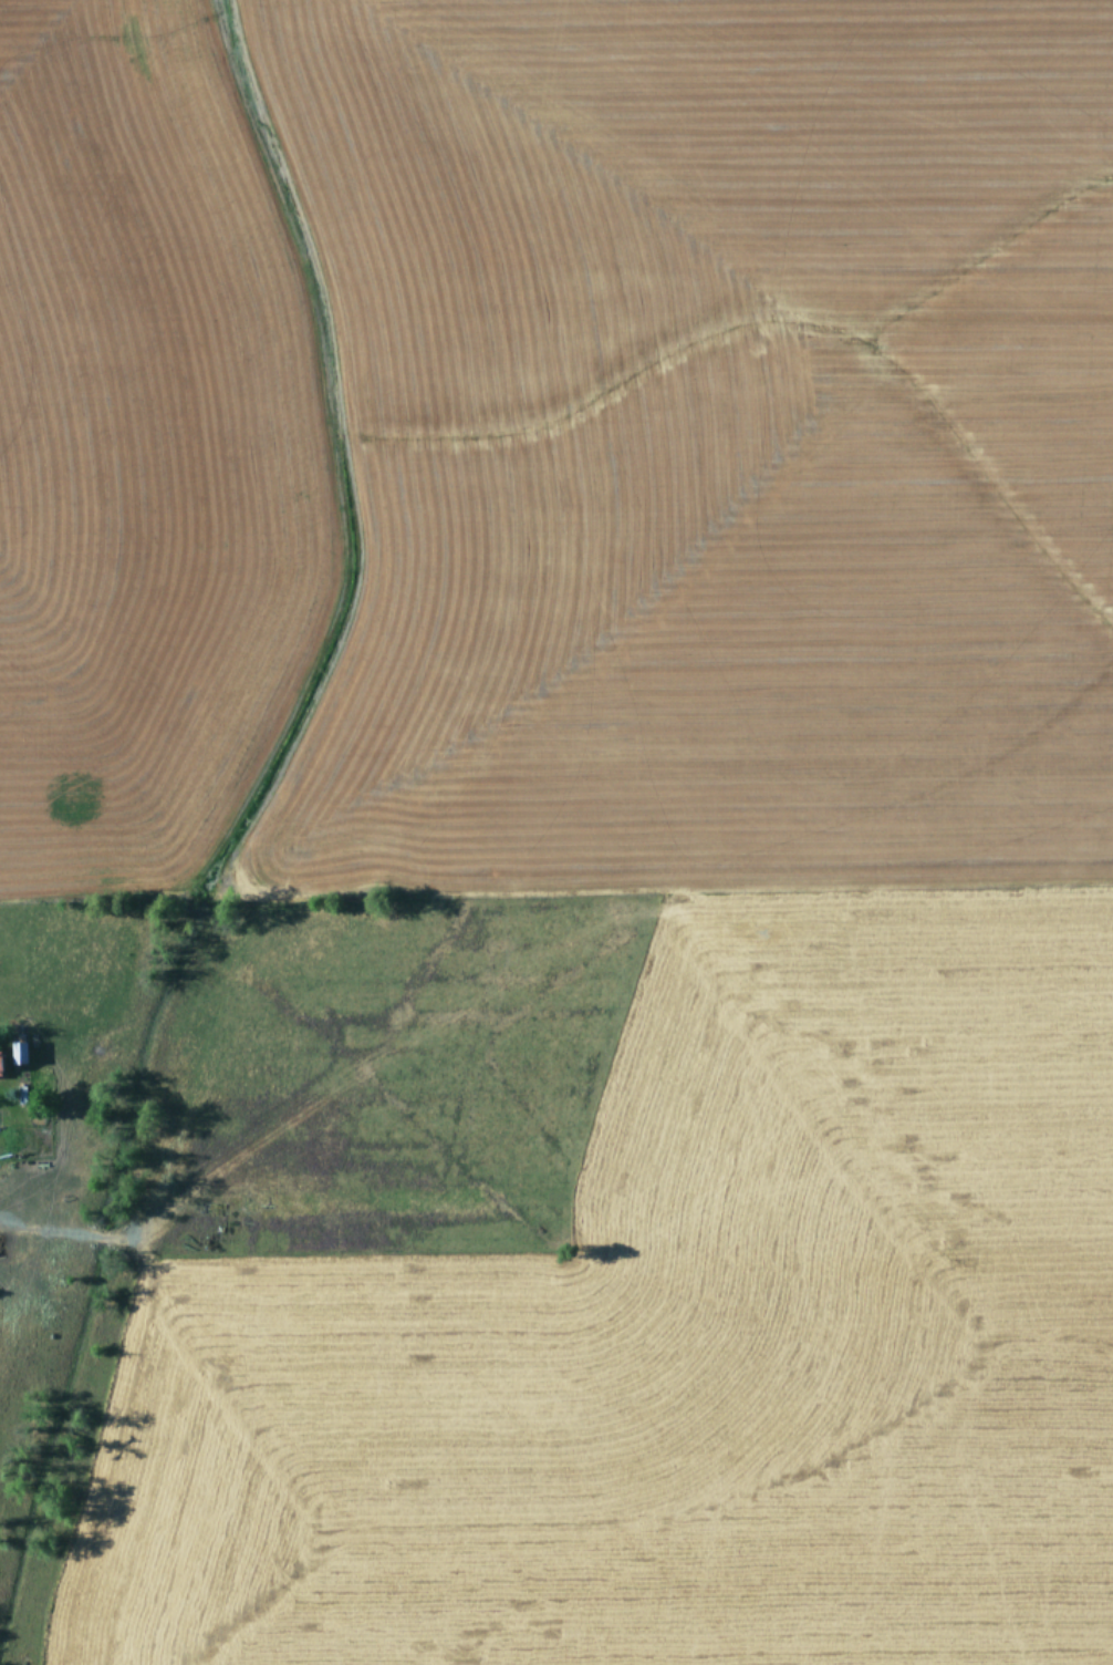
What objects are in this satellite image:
crop: (556, 832)
road: (14, 1148)

